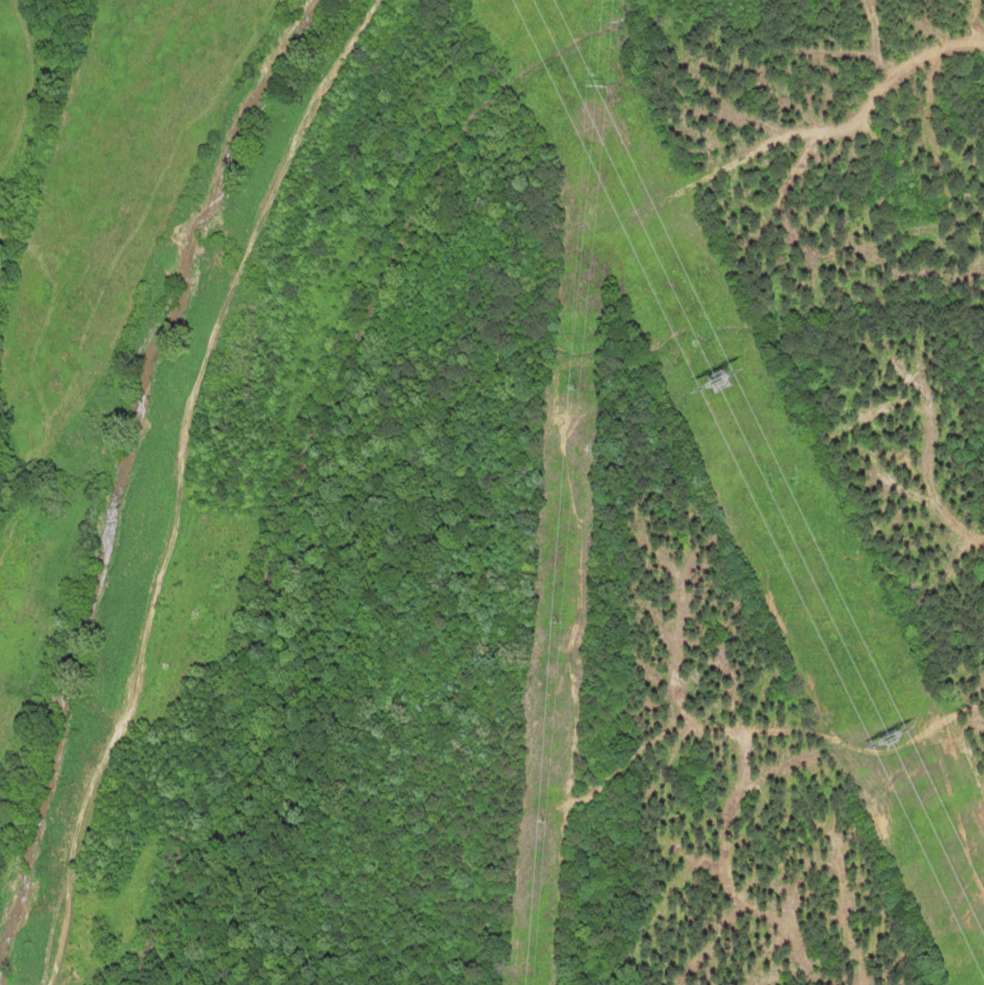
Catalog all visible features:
power tower: (707, 372)
power tower: (882, 729)

